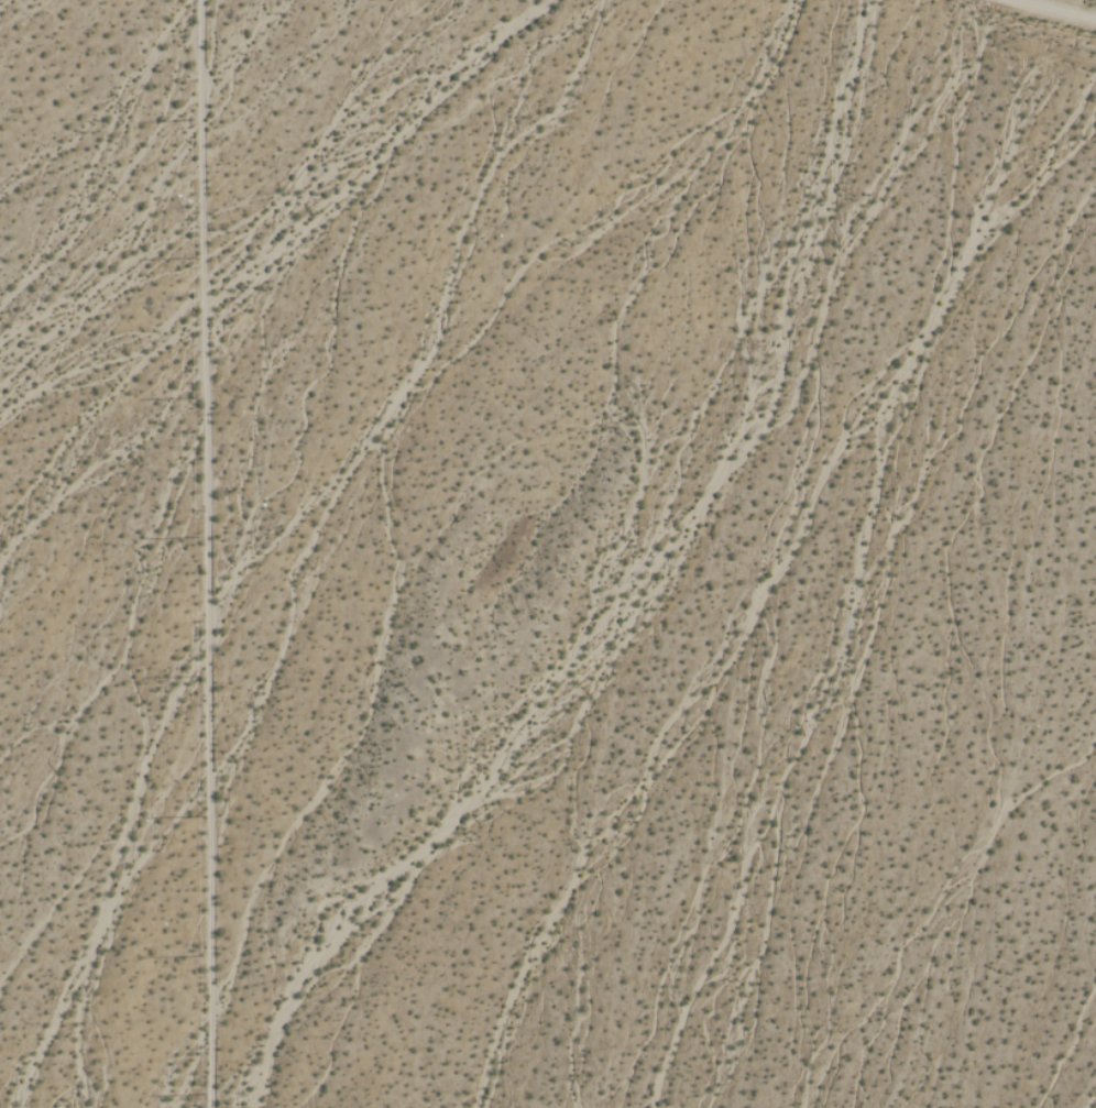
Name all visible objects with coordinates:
road: (1081, 3)

